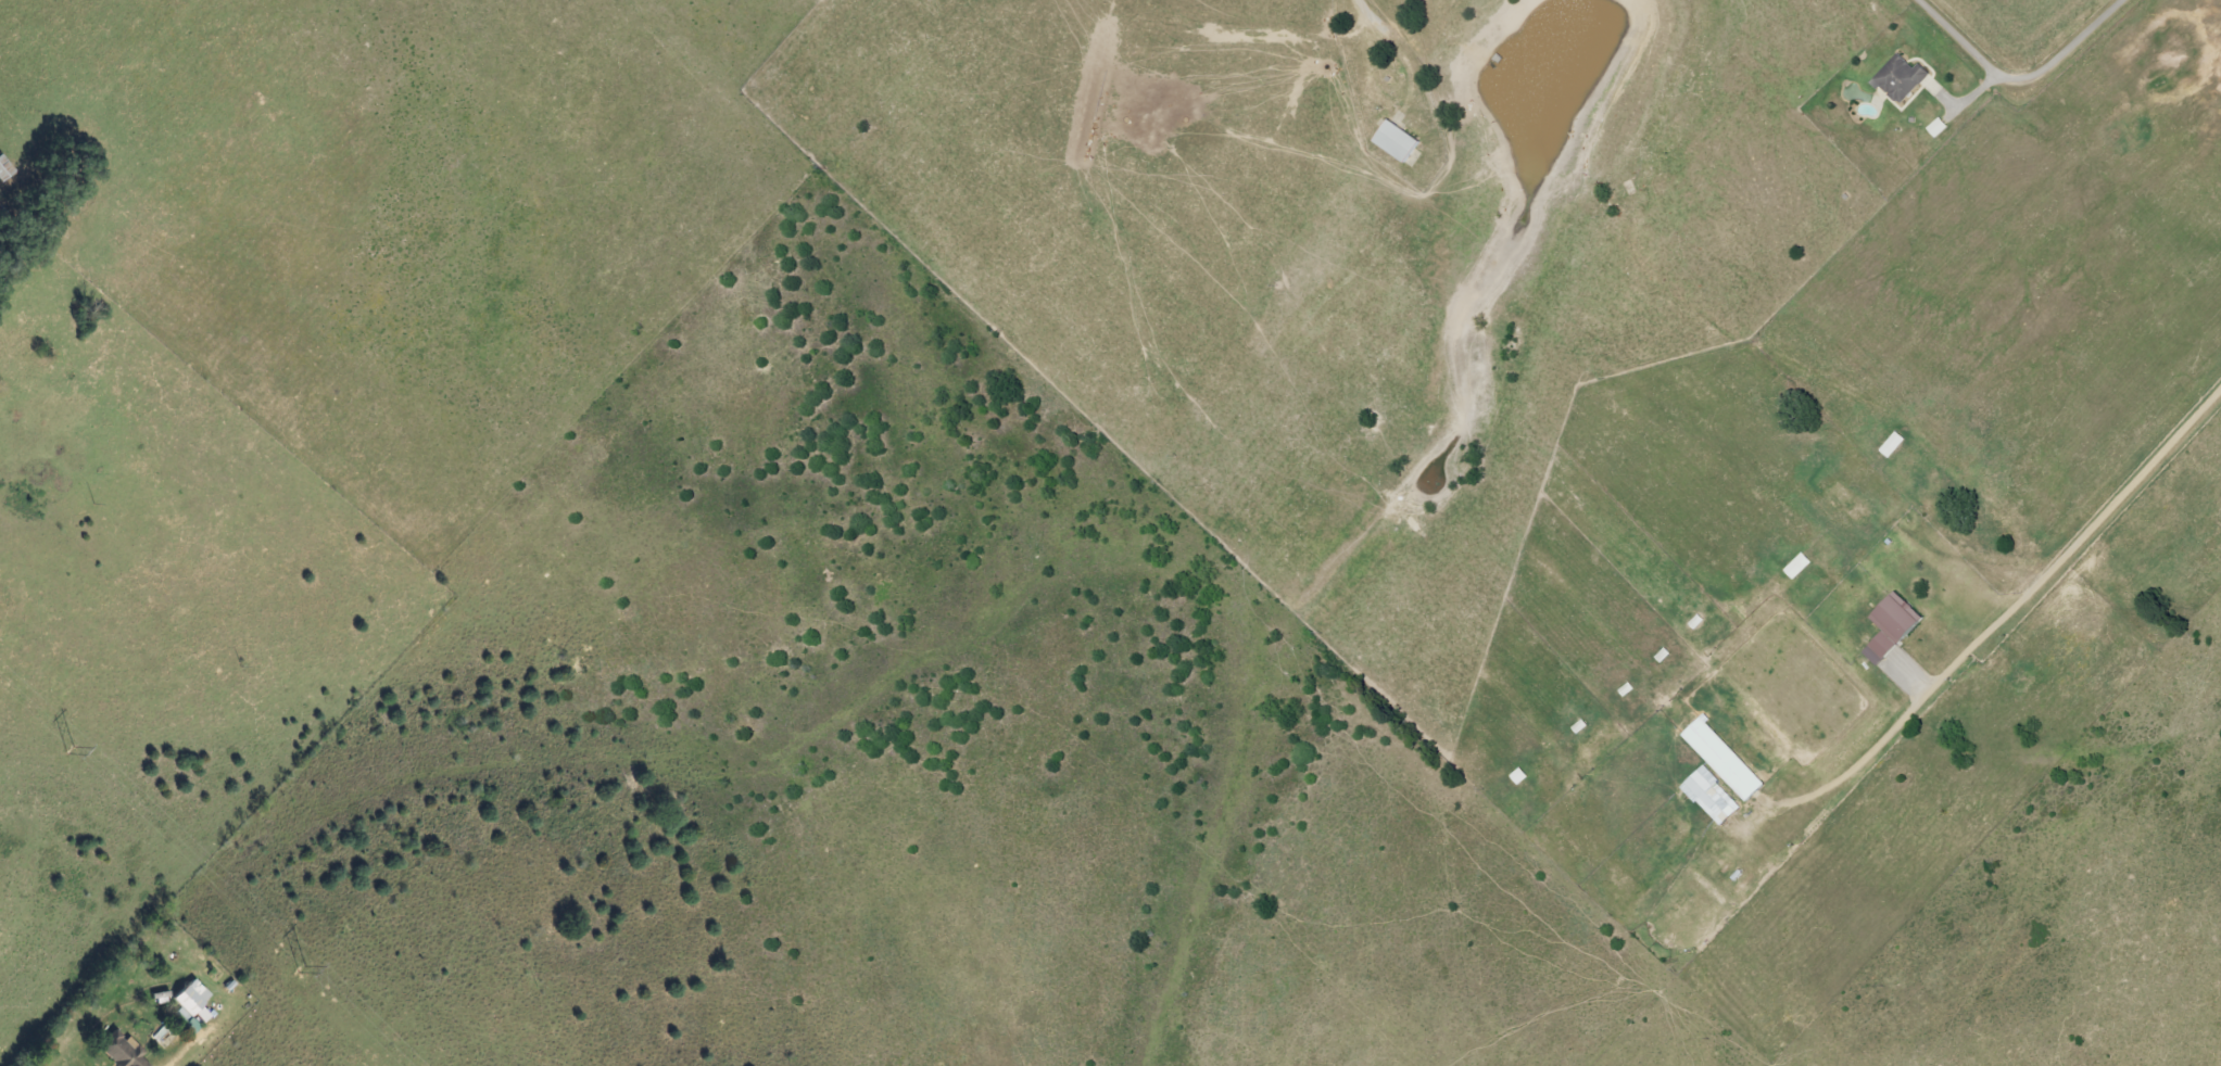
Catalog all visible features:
road: (1372, 8)
building: (1903, 79)
road: (2023, 85)
building: (1940, 128)
building: (1401, 142)
building: (5, 169)
building: (1895, 445)
road: (1969, 563)
building: (1801, 566)
road: (2021, 600)
building: (1894, 627)
power tower: (62, 746)
building: (1727, 760)
building: (1715, 797)
power tower: (294, 968)
building: (192, 1001)
building: (124, 1050)
road: (176, 1063)

